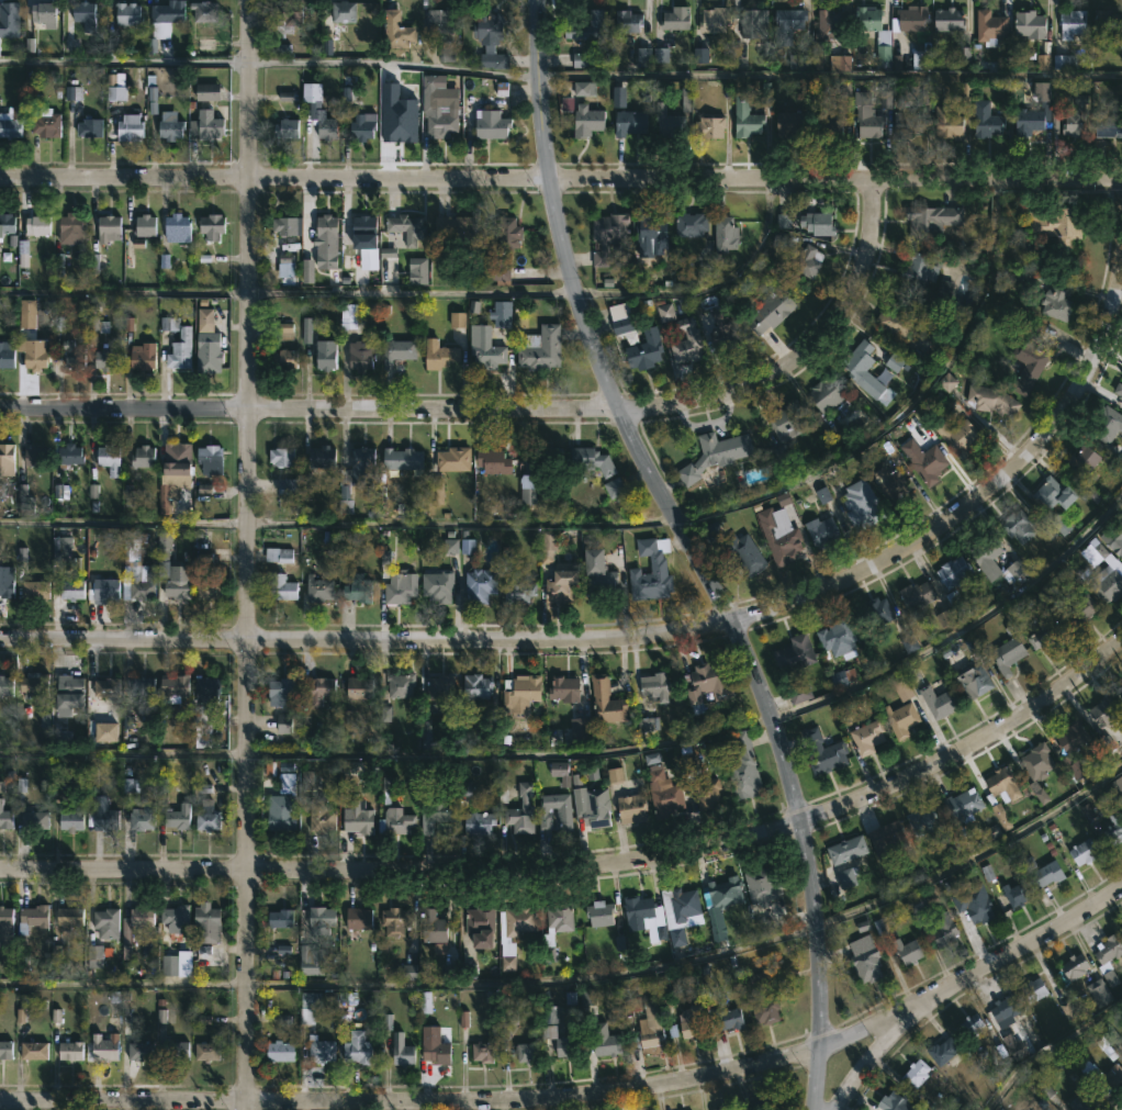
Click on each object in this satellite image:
building: (204, 10)
building: (344, 10)
building: (44, 12)
building: (127, 13)
building: (83, 14)
building: (289, 15)
building: (9, 18)
building: (676, 18)
building: (790, 18)
building: (868, 18)
building: (715, 19)
building: (909, 19)
building: (439, 20)
building: (950, 20)
building: (1107, 20)
building: (164, 21)
building: (627, 21)
building: (754, 22)
building: (829, 23)
building: (1031, 23)
building: (1073, 23)
building: (586, 25)
building: (991, 27)
building: (396, 29)
building: (491, 38)
building: (922, 56)
road: (124, 58)
road: (395, 64)
road: (830, 75)
building: (207, 91)
building: (867, 115)
building: (667, 116)
building: (747, 116)
building: (1076, 117)
building: (587, 120)
building: (790, 120)
building: (987, 120)
building: (1029, 121)
building: (630, 122)
building: (45, 123)
building: (205, 123)
building: (441, 123)
building: (491, 123)
building: (949, 123)
building: (401, 124)
building: (907, 124)
building: (9, 125)
building: (361, 125)
building: (1108, 125)
building: (88, 126)
building: (128, 126)
building: (169, 126)
building: (709, 126)
building: (327, 127)
building: (285, 130)
road: (561, 178)
building: (7, 220)
building: (931, 220)
building: (818, 223)
building: (691, 224)
building: (37, 225)
building: (284, 225)
building: (1046, 225)
building: (144, 226)
building: (211, 226)
building: (456, 226)
building: (109, 227)
building: (177, 227)
building: (407, 227)
building: (71, 228)
building: (364, 231)
building: (507, 232)
building: (725, 233)
building: (326, 234)
building: (650, 234)
building: (607, 236)
building: (806, 260)
building: (417, 269)
building: (500, 270)
building: (918, 272)
road: (288, 292)
building: (1056, 303)
building: (771, 310)
building: (502, 314)
building: (348, 315)
building: (204, 319)
building: (894, 321)
building: (621, 322)
building: (725, 329)
building: (284, 334)
building: (686, 341)
building: (207, 343)
building: (180, 349)
building: (484, 349)
building: (540, 349)
building: (646, 349)
building: (397, 352)
building: (34, 354)
building: (361, 354)
building: (5, 355)
building: (72, 355)
building: (325, 355)
building: (439, 355)
building: (142, 356)
building: (1029, 356)
building: (105, 359)
building: (284, 359)
building: (209, 360)
building: (857, 363)
building: (1119, 390)
building: (822, 400)
building: (992, 400)
building: (1120, 406)
road: (503, 410)
building: (787, 422)
building: (1108, 425)
building: (956, 434)
road: (248, 435)
building: (68, 455)
building: (715, 455)
building: (35, 456)
building: (143, 457)
building: (281, 457)
building: (176, 458)
building: (323, 458)
building: (108, 459)
building: (403, 459)
building: (453, 459)
building: (924, 459)
building: (5, 460)
building: (210, 460)
building: (593, 460)
building: (492, 461)
building: (1084, 461)
building: (358, 470)
building: (532, 472)
building: (888, 481)
building: (288, 487)
building: (528, 489)
building: (1055, 493)
building: (862, 505)
road: (124, 522)
road: (461, 524)
building: (1020, 526)
building: (821, 532)
building: (778, 535)
building: (1113, 538)
building: (547, 546)
building: (742, 550)
road: (693, 551)
building: (278, 554)
building: (986, 556)
building: (953, 572)
building: (650, 573)
building: (1106, 574)
building: (135, 575)
building: (597, 576)
building: (176, 580)
building: (5, 582)
building: (438, 585)
building: (480, 585)
building: (561, 586)
building: (281, 587)
building: (357, 588)
building: (34, 590)
building: (71, 590)
building: (104, 590)
building: (205, 590)
building: (318, 590)
building: (399, 592)
building: (518, 592)
building: (960, 605)
building: (924, 609)
building: (1081, 609)
building: (873, 615)
road: (650, 634)
building: (1046, 637)
building: (838, 638)
building: (795, 654)
building: (1008, 654)
building: (974, 676)
building: (34, 684)
building: (401, 685)
building: (655, 685)
building: (706, 685)
building: (5, 686)
building: (142, 686)
building: (173, 687)
building: (440, 687)
building: (476, 687)
building: (105, 688)
building: (359, 688)
building: (565, 688)
building: (321, 689)
building: (520, 691)
building: (280, 692)
building: (1120, 693)
building: (66, 699)
building: (204, 700)
building: (940, 700)
building: (606, 702)
building: (1103, 710)
building: (900, 719)
building: (867, 737)
building: (1073, 737)
building: (823, 751)
road: (123, 752)
road: (508, 753)
building: (1037, 761)
building: (743, 767)
building: (287, 785)
building: (1001, 787)
building: (663, 793)
building: (707, 793)
building: (963, 807)
building: (596, 808)
building: (631, 808)
building: (520, 811)
building: (281, 814)
building: (103, 815)
building: (563, 815)
building: (438, 816)
building: (142, 817)
building: (177, 817)
building: (321, 817)
building: (71, 818)
building: (5, 819)
building: (207, 819)
building: (34, 821)
building: (358, 821)
building: (395, 821)
building: (922, 821)
building: (478, 823)
building: (1114, 828)
building: (889, 836)
road: (709, 845)
building: (846, 850)
building: (1084, 853)
road: (975, 855)
road: (123, 870)
building: (1048, 874)
building: (846, 881)
building: (762, 886)
building: (725, 893)
building: (1016, 895)
building: (974, 904)
building: (681, 912)
building: (599, 913)
building: (560, 917)
building: (644, 917)
building: (32, 918)
building: (68, 918)
building: (141, 918)
building: (175, 918)
building: (280, 919)
building: (358, 919)
building: (480, 920)
building: (321, 921)
building: (394, 922)
building: (516, 922)
building: (105, 923)
building: (206, 926)
building: (5, 928)
building: (433, 928)
building: (943, 930)
building: (1109, 951)
building: (908, 952)
building: (507, 957)
building: (865, 965)
building: (170, 967)
building: (1074, 967)
road: (411, 985)
road: (246, 990)
building: (1034, 990)
building: (315, 1005)
building: (766, 1011)
building: (1006, 1011)
building: (728, 1019)
building: (651, 1021)
building: (692, 1023)
building: (970, 1027)
building: (560, 1043)
building: (606, 1045)
road: (1046, 1046)
building: (104, 1047)
building: (1014, 1047)
building: (5, 1050)
building: (357, 1050)
building: (33, 1051)
building: (175, 1051)
building: (319, 1051)
building: (69, 1052)
building: (139, 1052)
building: (205, 1052)
building: (280, 1052)
building: (483, 1052)
building: (943, 1052)
building: (436, 1053)
building: (527, 1053)
building: (403, 1055)
road: (869, 1061)
building: (916, 1074)
building: (1112, 1079)
road: (583, 1095)
building: (897, 1102)
building: (761, 1103)
building: (1085, 1103)
building: (723, 1108)

